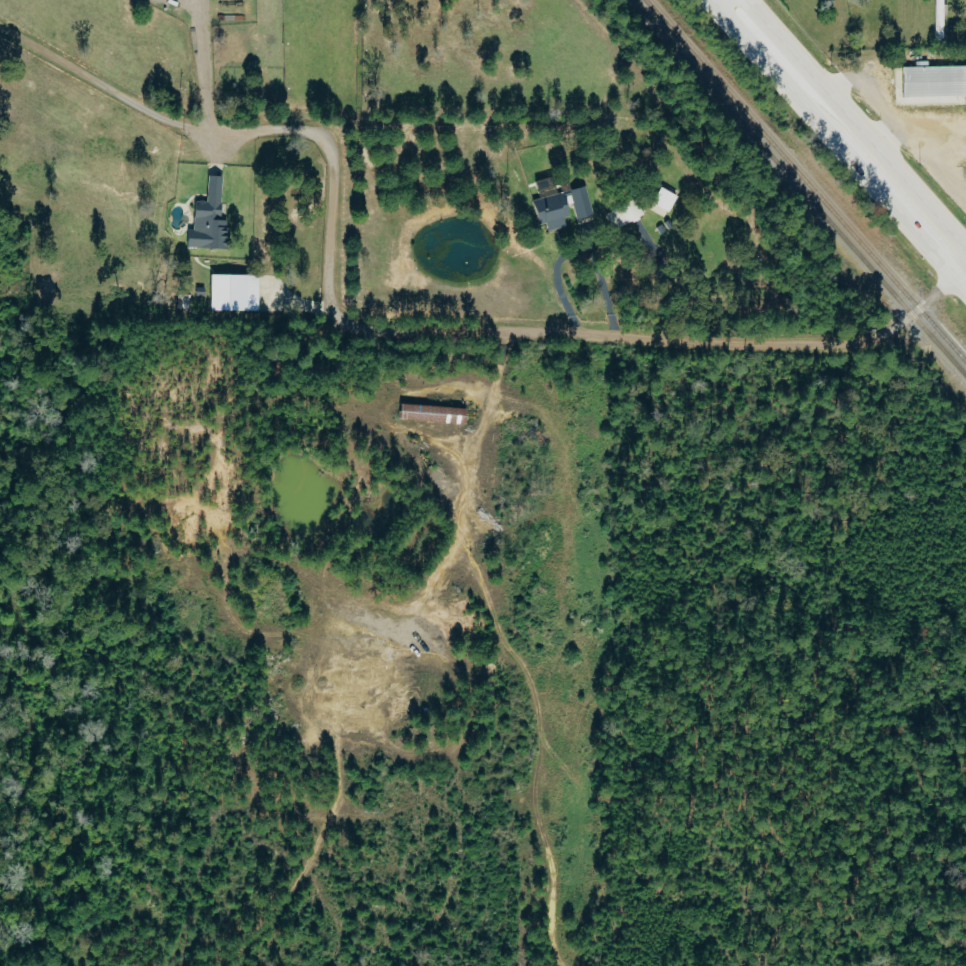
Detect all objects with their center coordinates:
road: (205, 67)
road: (860, 84)
building: (929, 85)
road: (910, 125)
road: (848, 134)
road: (932, 170)
railway: (805, 181)
railway: (799, 188)
building: (662, 199)
building: (557, 204)
building: (623, 213)
building: (204, 217)
road: (580, 252)
road: (664, 284)
building: (229, 292)
road: (387, 333)
building: (427, 414)
road: (338, 633)
road: (535, 745)

